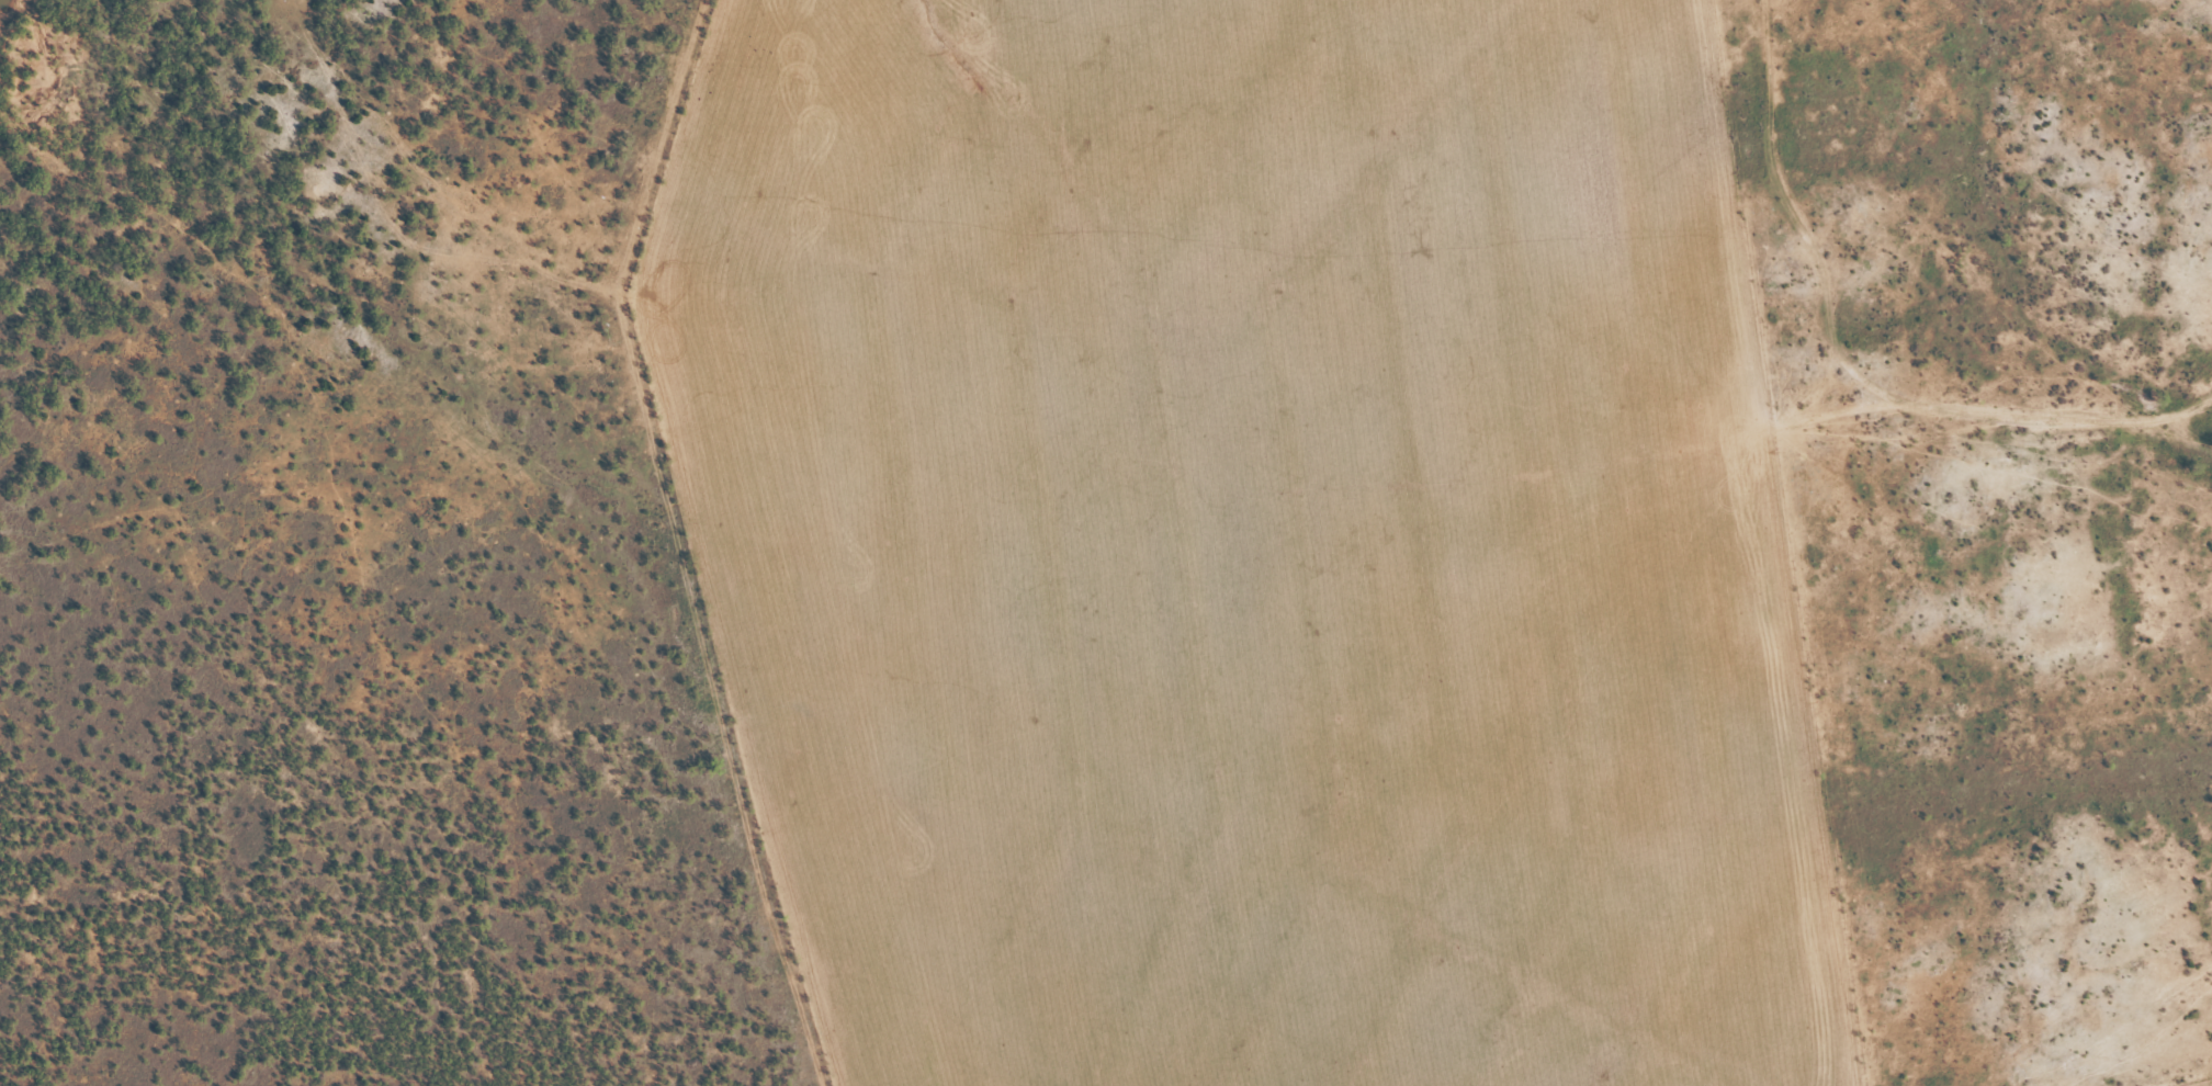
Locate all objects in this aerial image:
road: (1864, 358)

